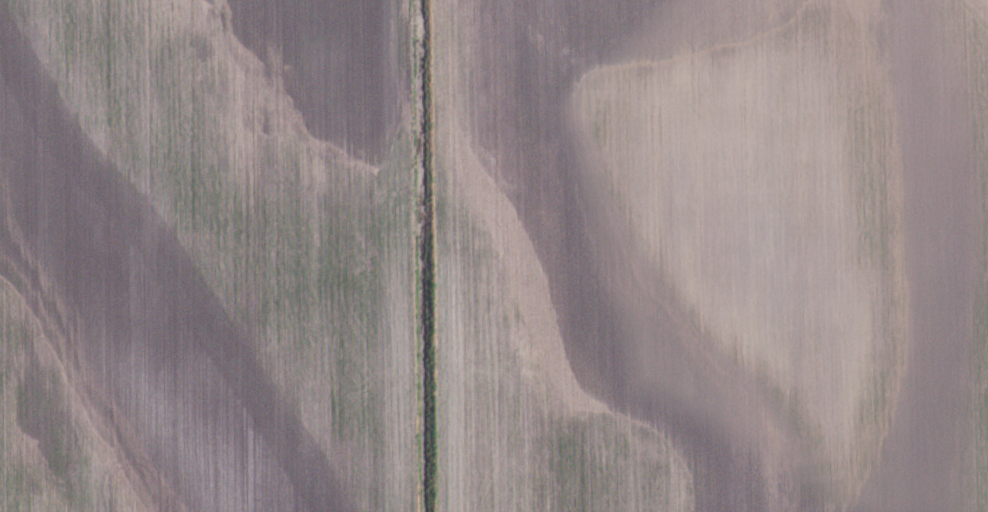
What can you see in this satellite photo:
crop: (494, 256)

